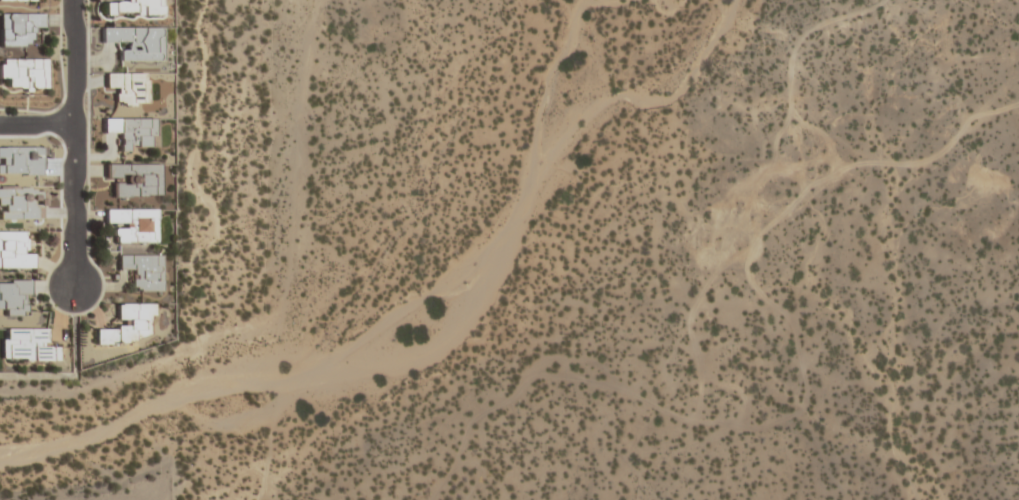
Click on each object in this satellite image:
building: (19, 0)
building: (133, 8)
building: (18, 28)
building: (135, 42)
building: (24, 73)
building: (127, 87)
road: (36, 124)
building: (130, 131)
road: (73, 143)
building: (134, 179)
building: (133, 224)
building: (14, 251)
building: (143, 271)
building: (14, 297)
building: (125, 325)
building: (27, 345)

